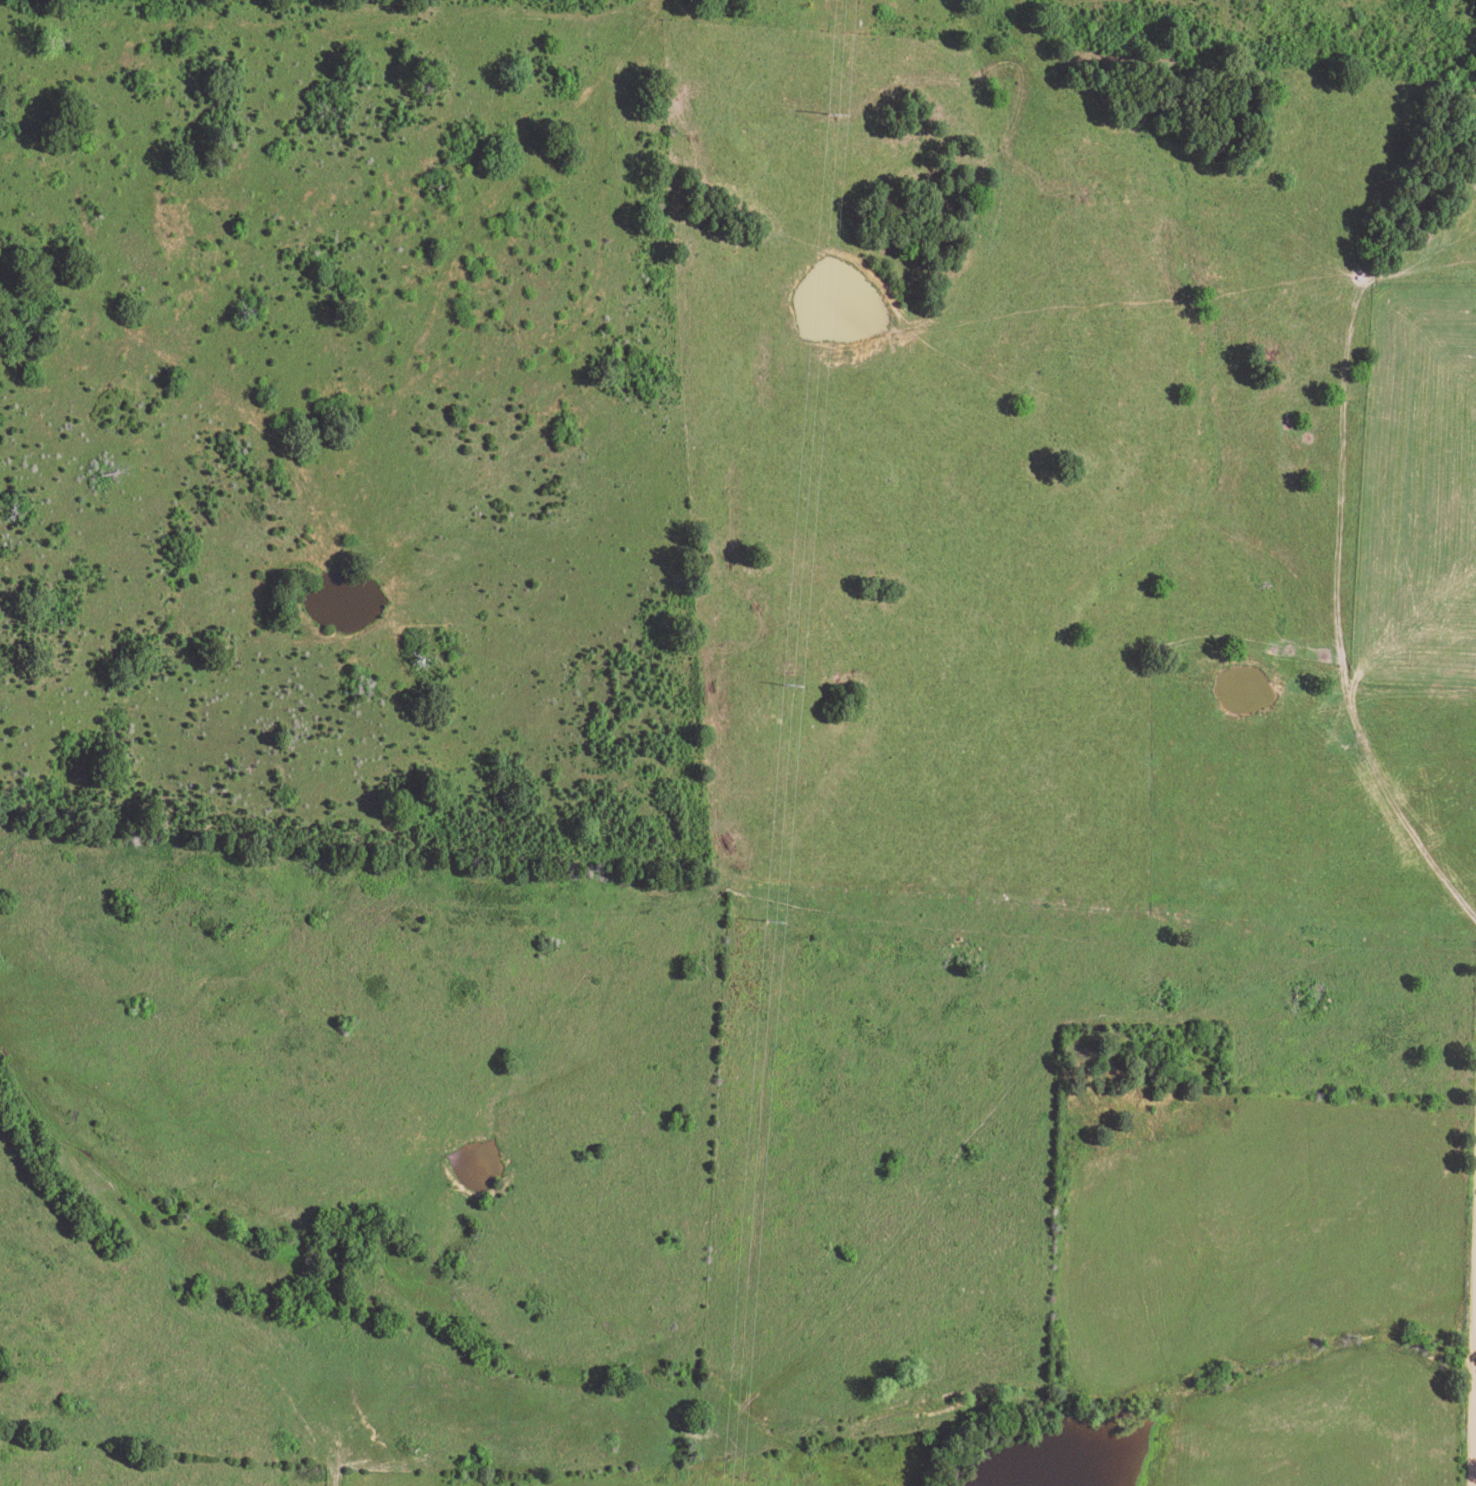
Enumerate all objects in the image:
road: (1474, 1403)

